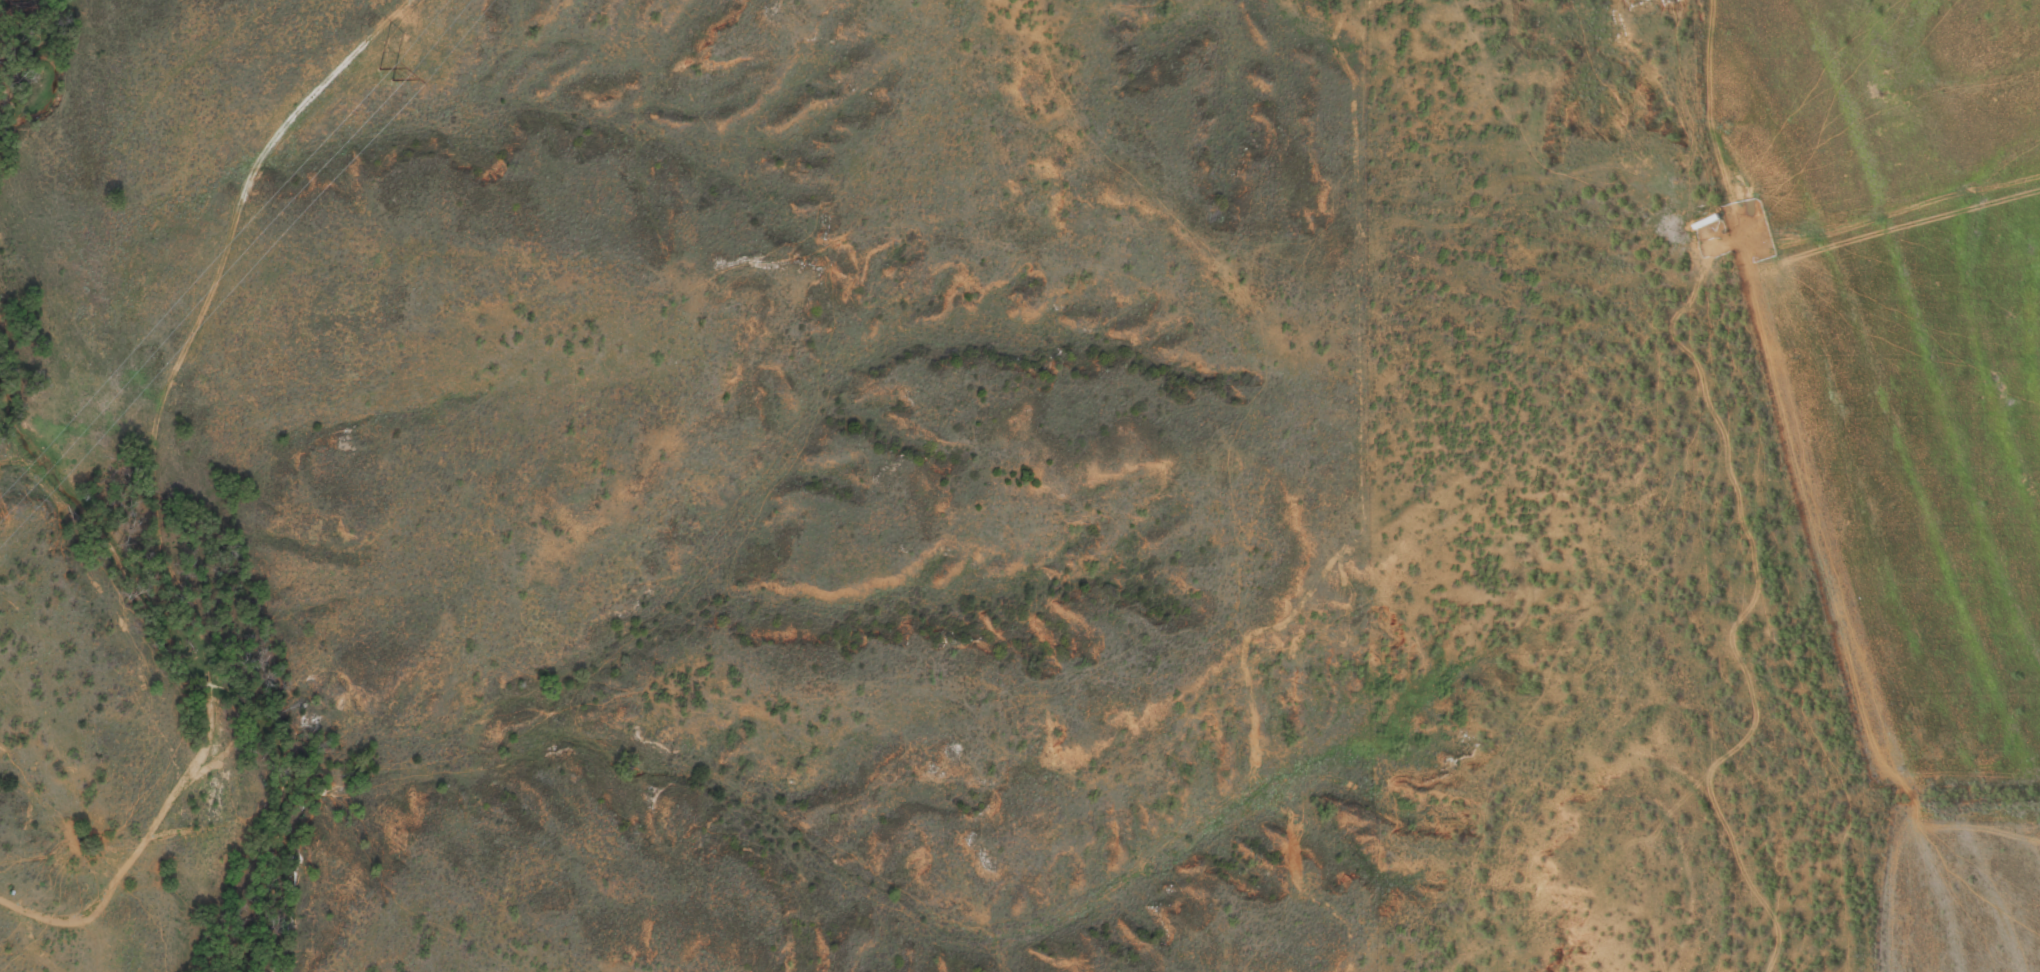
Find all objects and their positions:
power tower: (384, 75)

